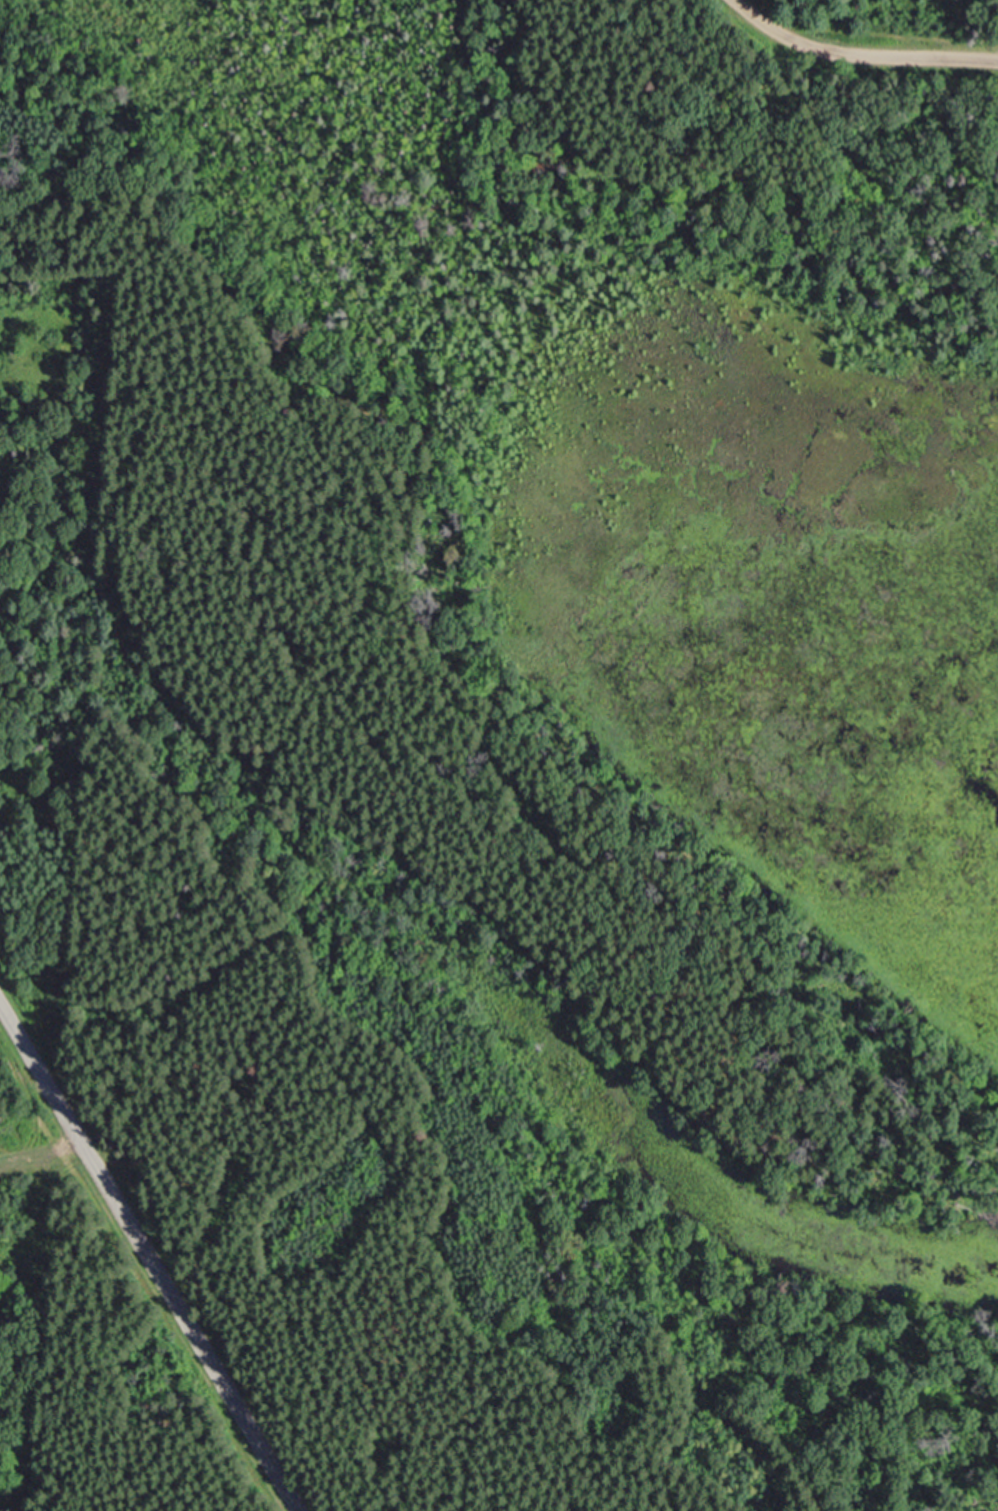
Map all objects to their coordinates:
road: (865, 48)
road: (150, 1255)

